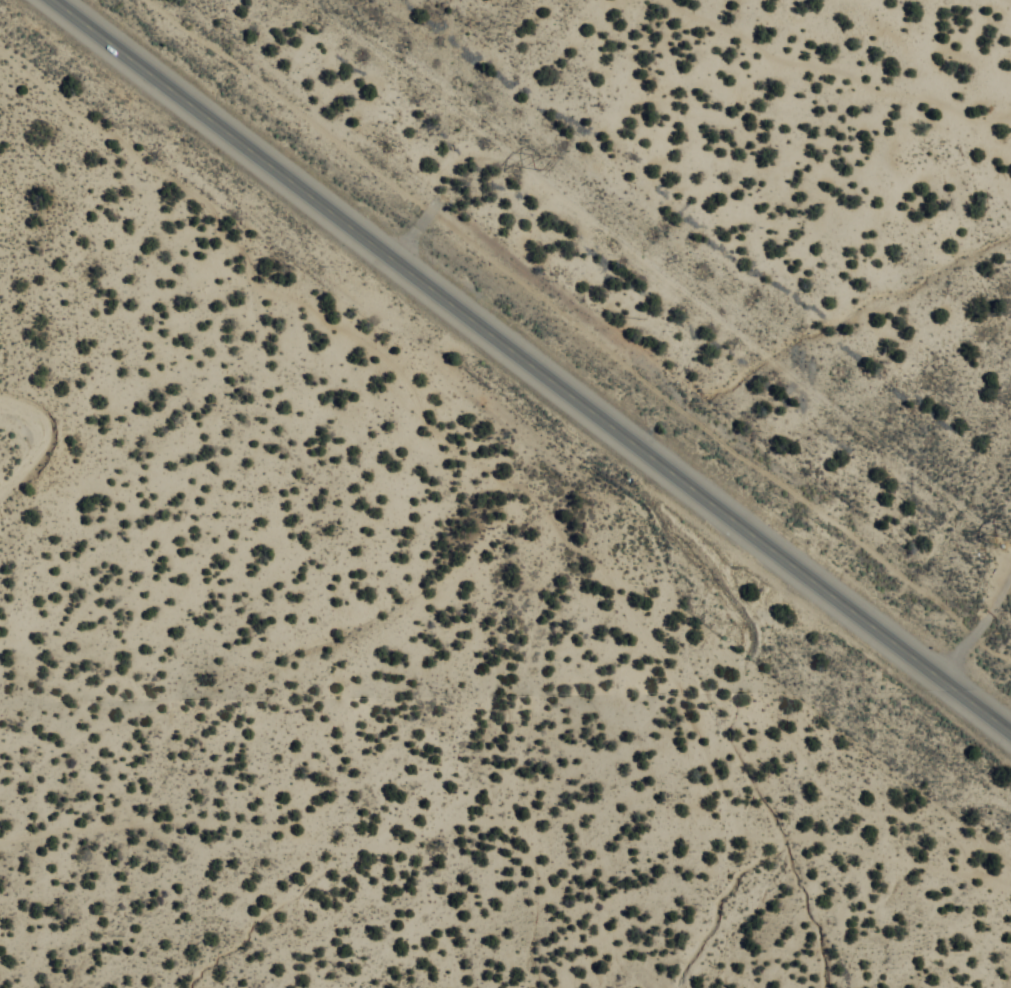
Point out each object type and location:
power tower: (539, 166)
road: (649, 226)
road: (532, 365)
road: (978, 629)
road: (507, 820)

